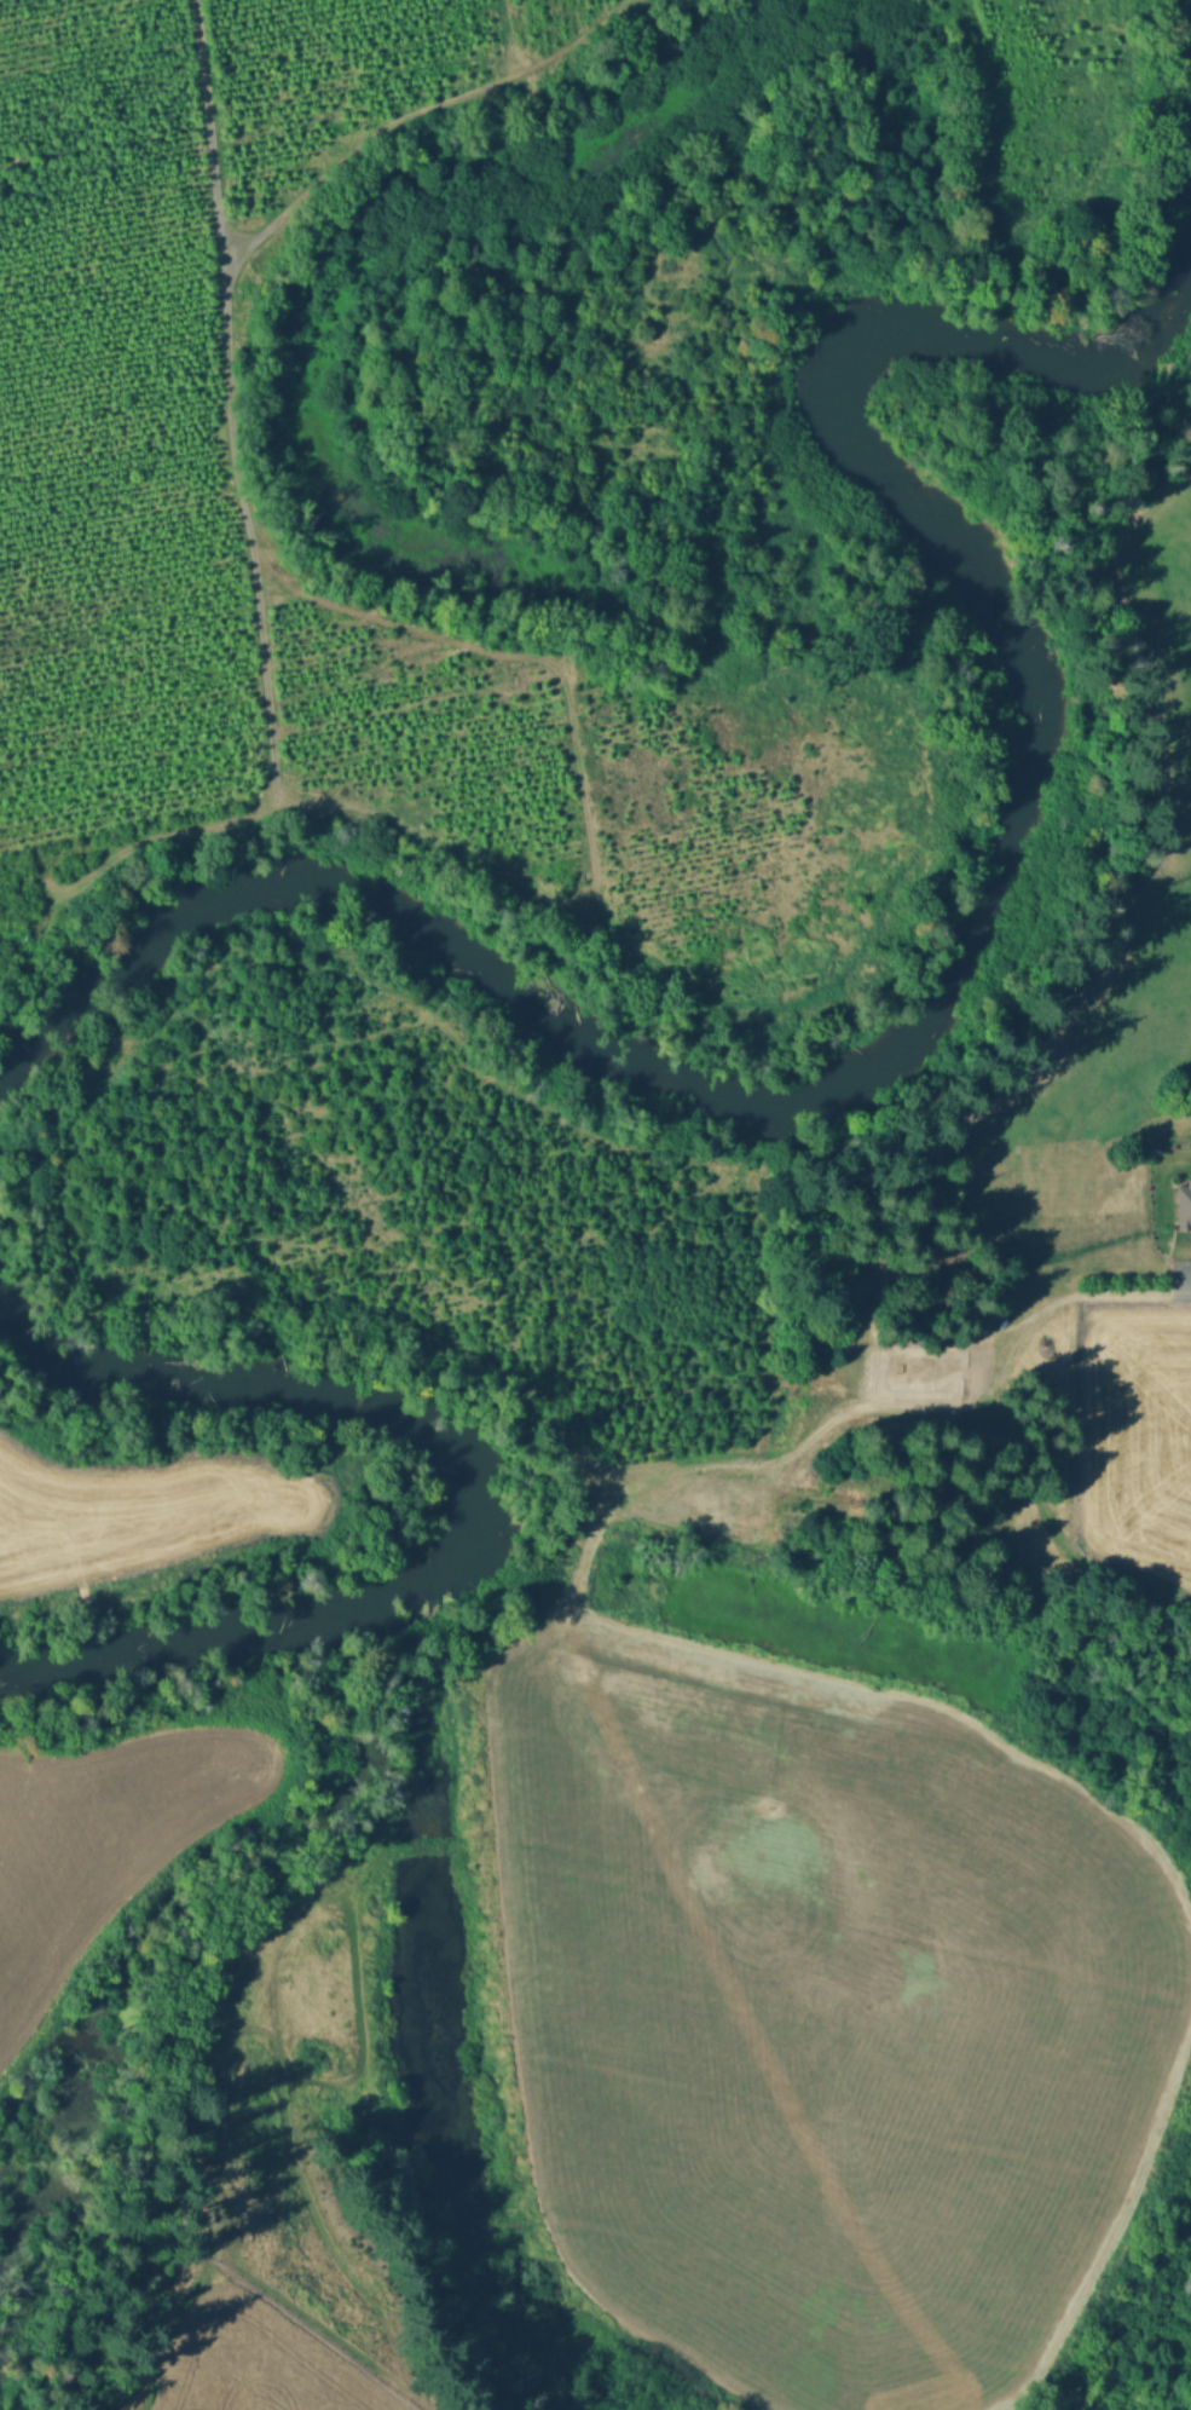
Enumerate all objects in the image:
road: (430, 126)
road: (206, 404)
river: (967, 961)
building: (1184, 1200)
river: (476, 1501)
crop: (139, 1512)
crop: (100, 1841)

